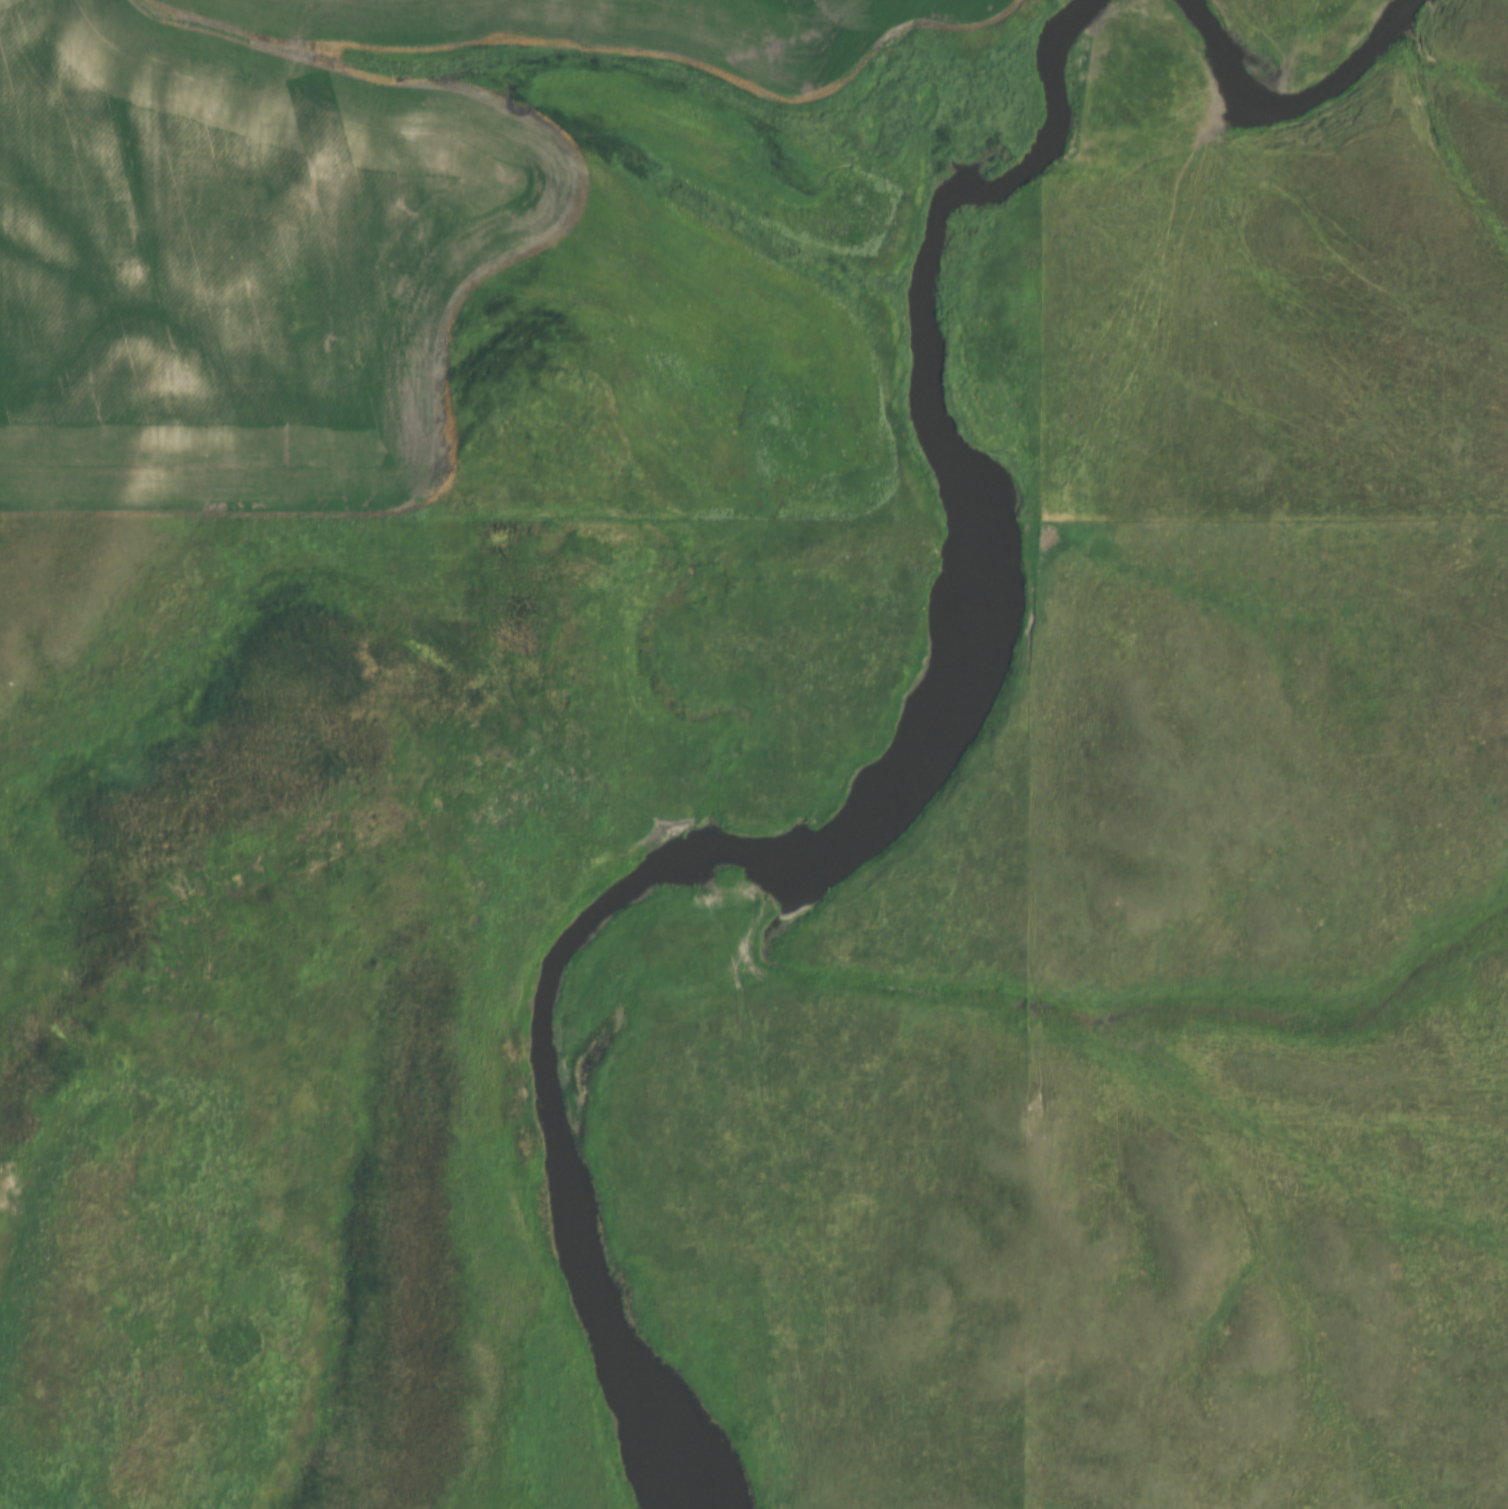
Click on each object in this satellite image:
river: (1281, 108)
river: (863, 815)

